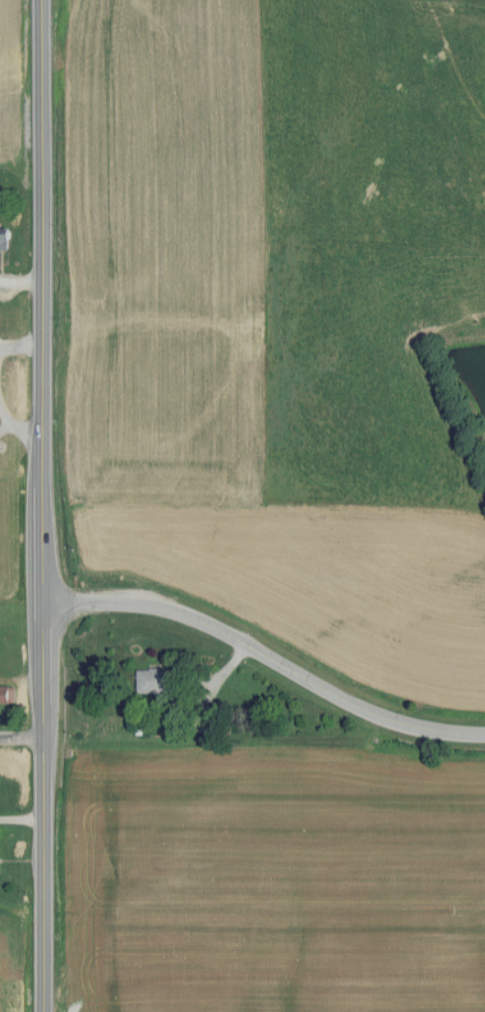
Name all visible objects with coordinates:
building: (7, 234)
road: (21, 346)
road: (43, 506)
road: (266, 655)
building: (155, 680)
building: (8, 693)
road: (22, 736)
road: (21, 821)
building: (0, 864)

